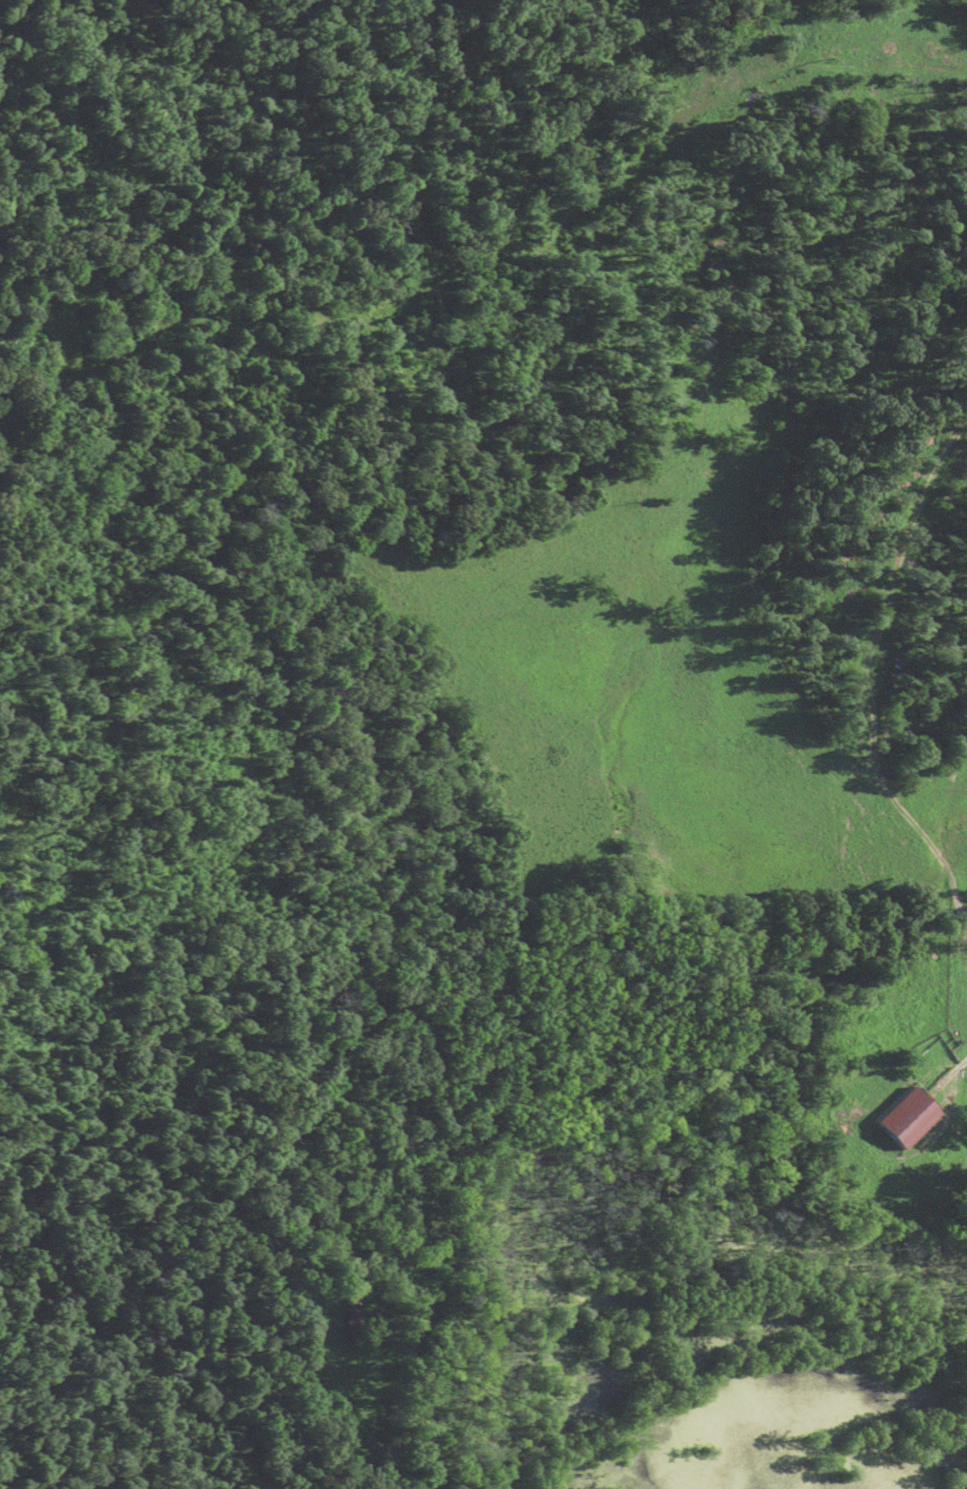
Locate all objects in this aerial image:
building: (891, 1117)

